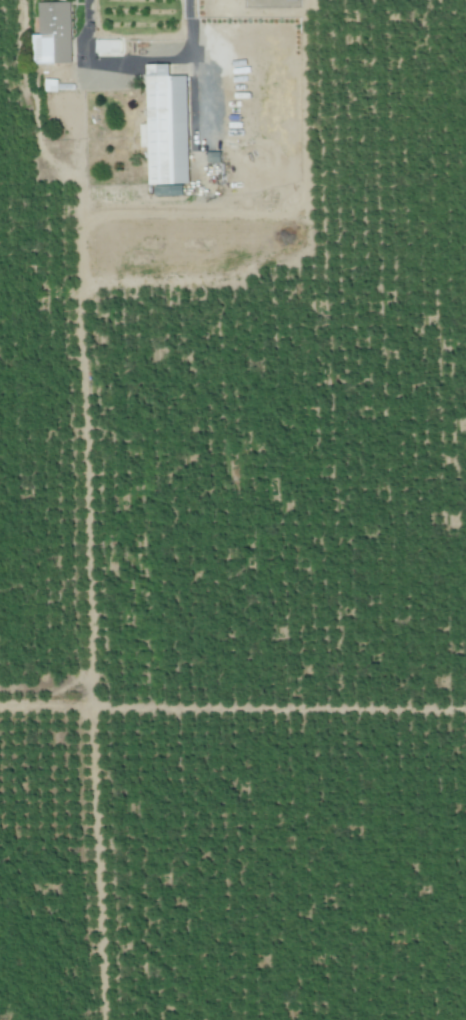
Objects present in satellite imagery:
building: (52, 33)
building: (109, 46)
road: (135, 62)
building: (50, 85)
building: (168, 130)
building: (214, 156)

